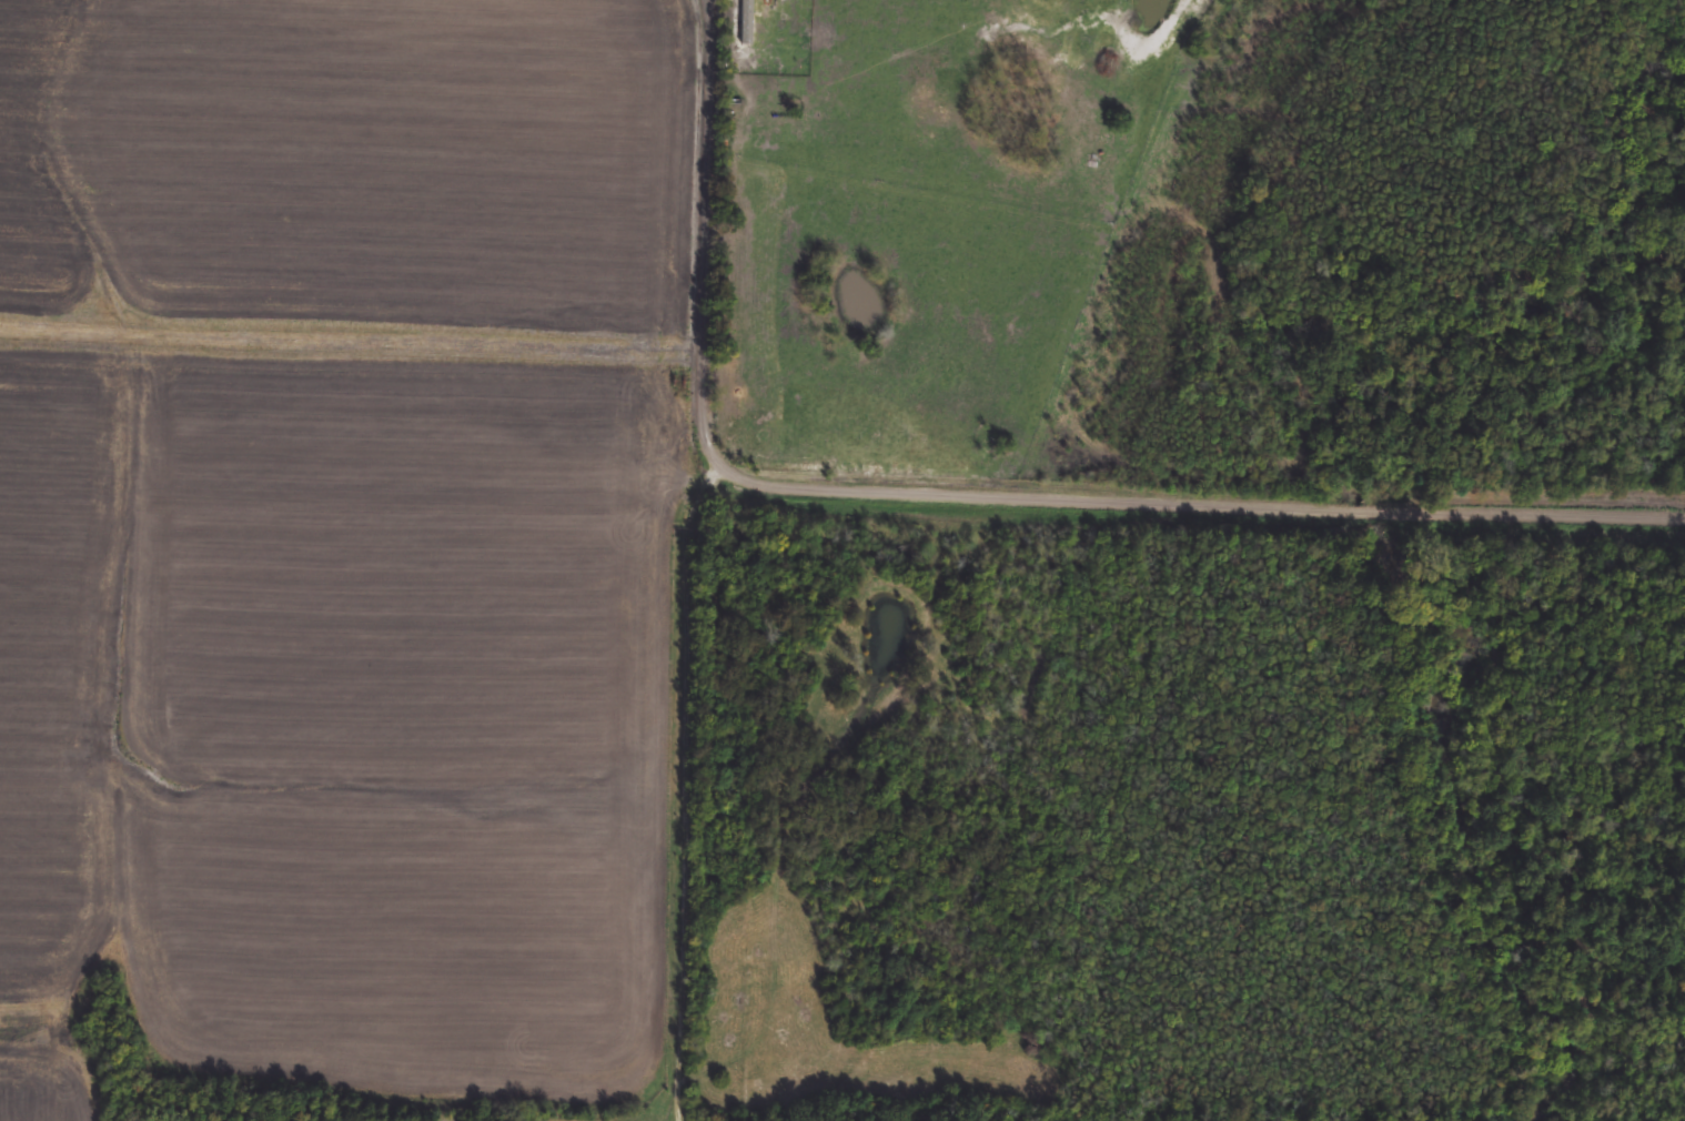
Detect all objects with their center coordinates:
road: (791, 488)
road: (1517, 512)

